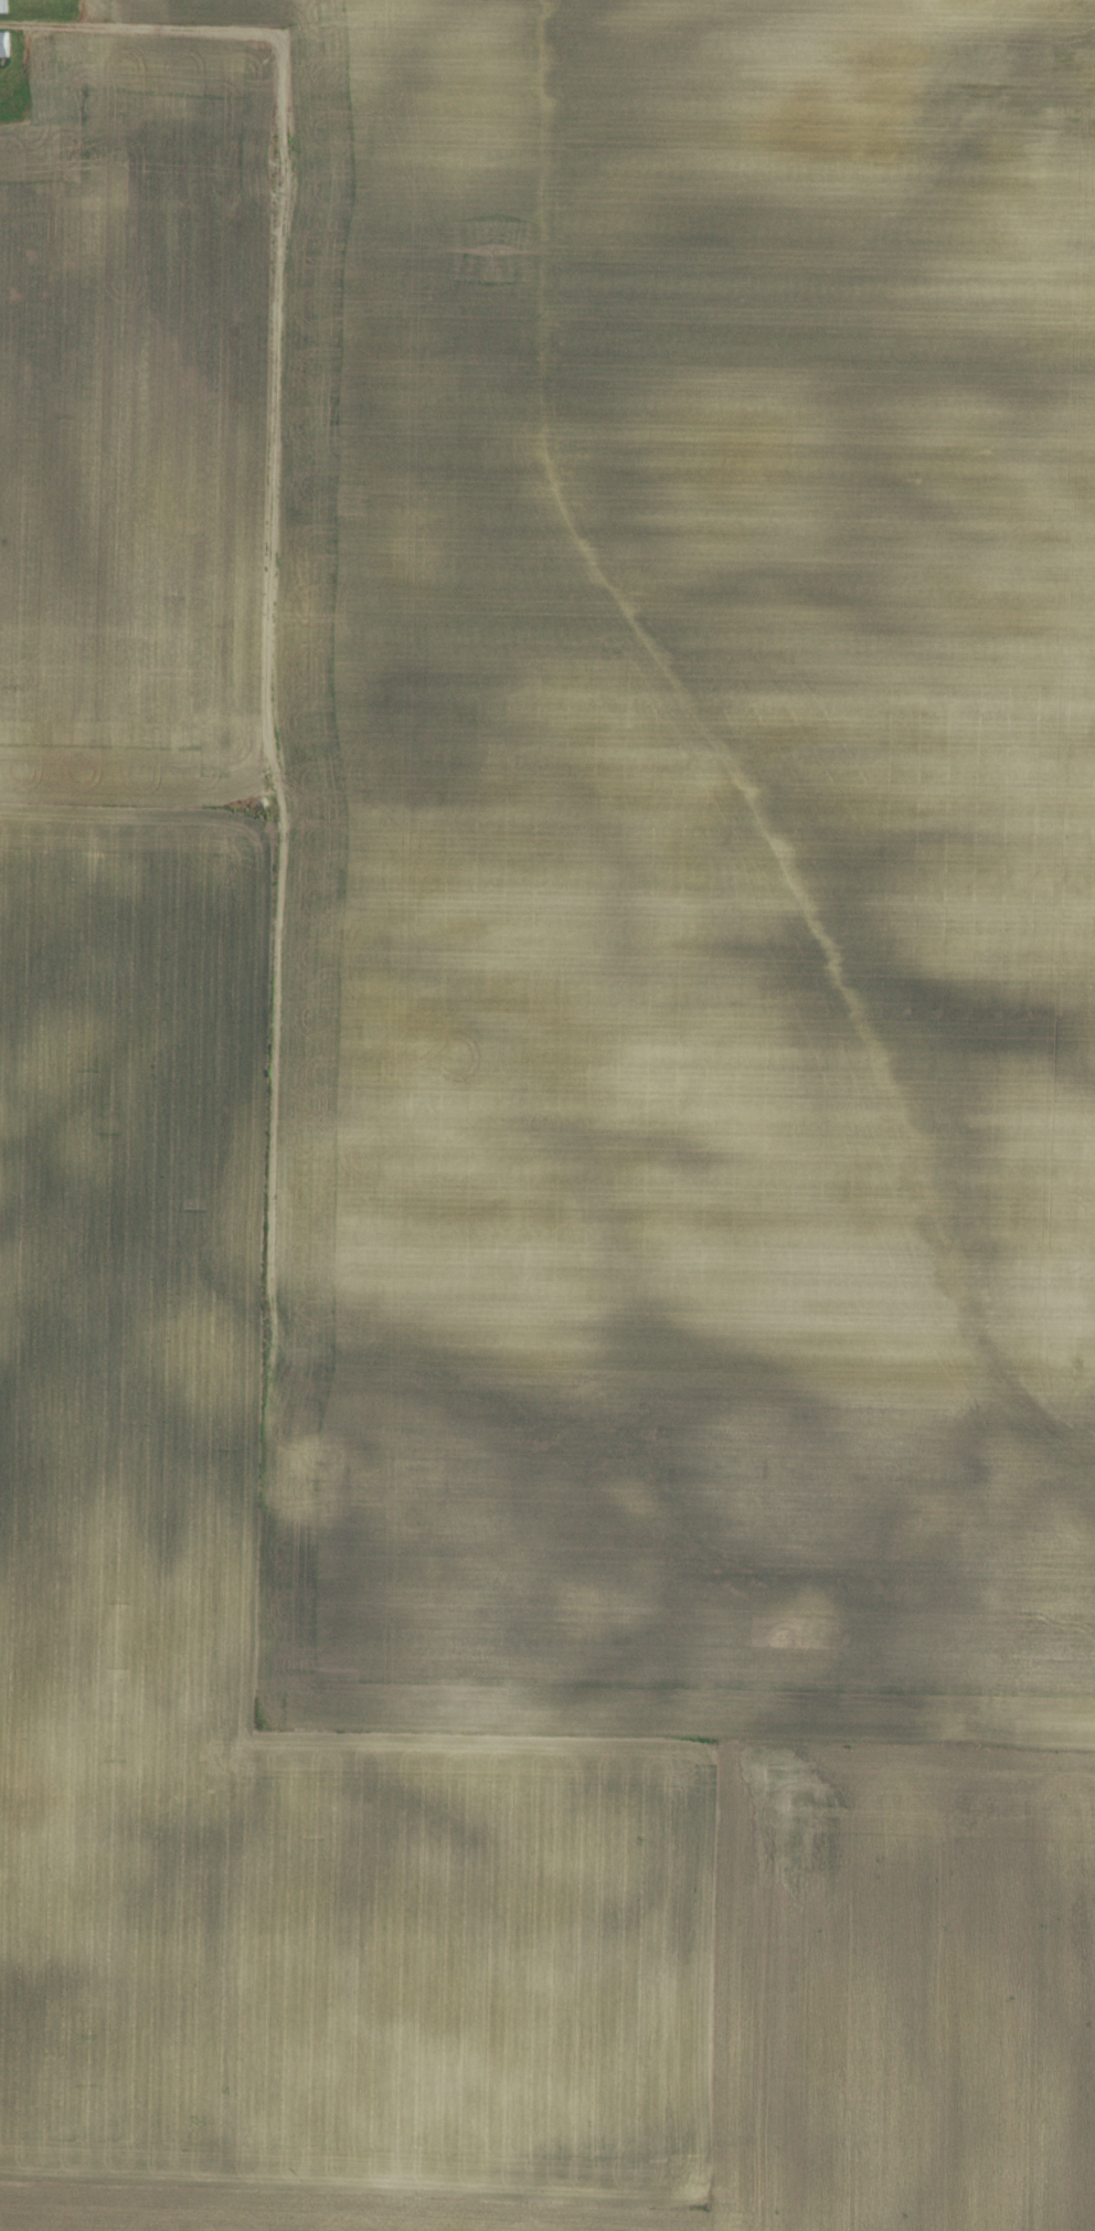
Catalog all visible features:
building: (4, 6)
building: (7, 42)

